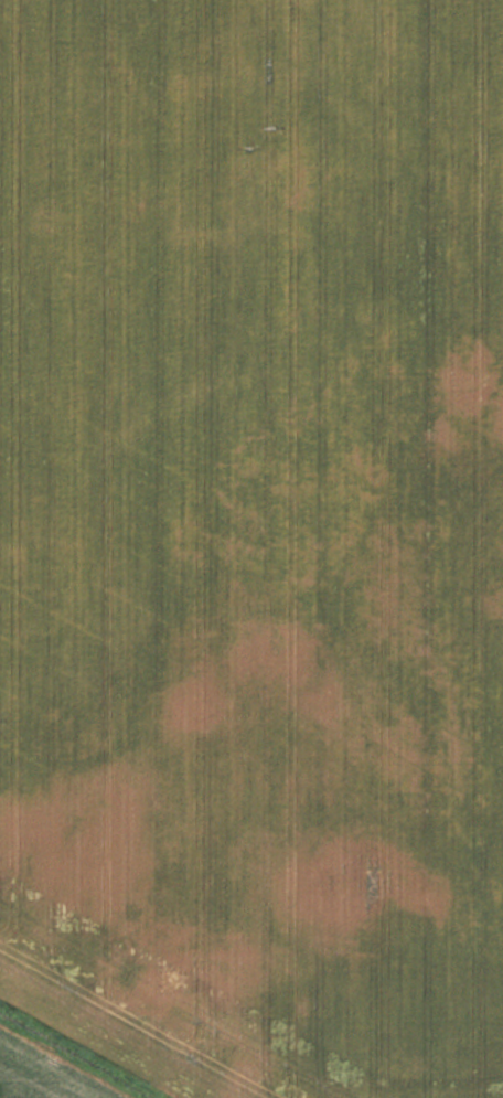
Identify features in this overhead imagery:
crop: (255, 537)
crop: (41, 1074)

